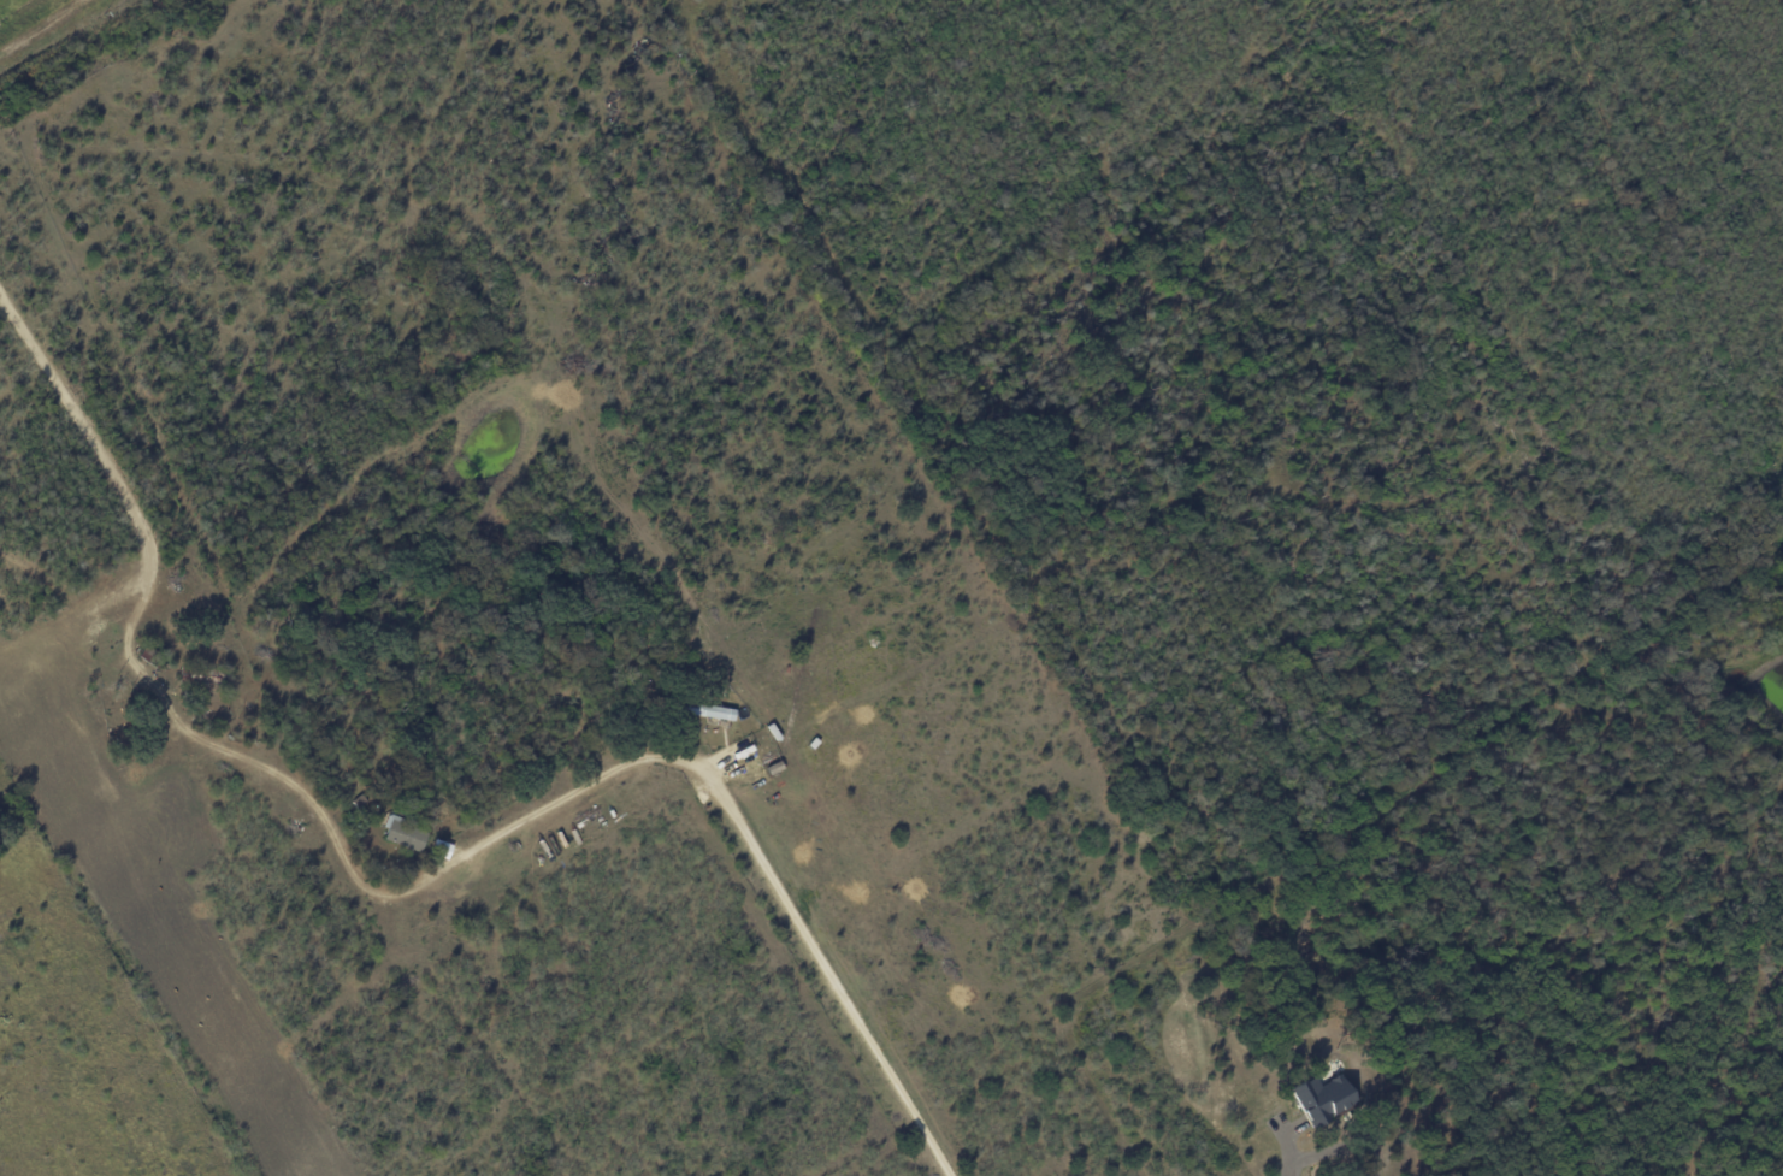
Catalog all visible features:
building: (405, 833)
road: (380, 891)
road: (804, 929)
building: (1323, 1097)
road: (1365, 1172)

